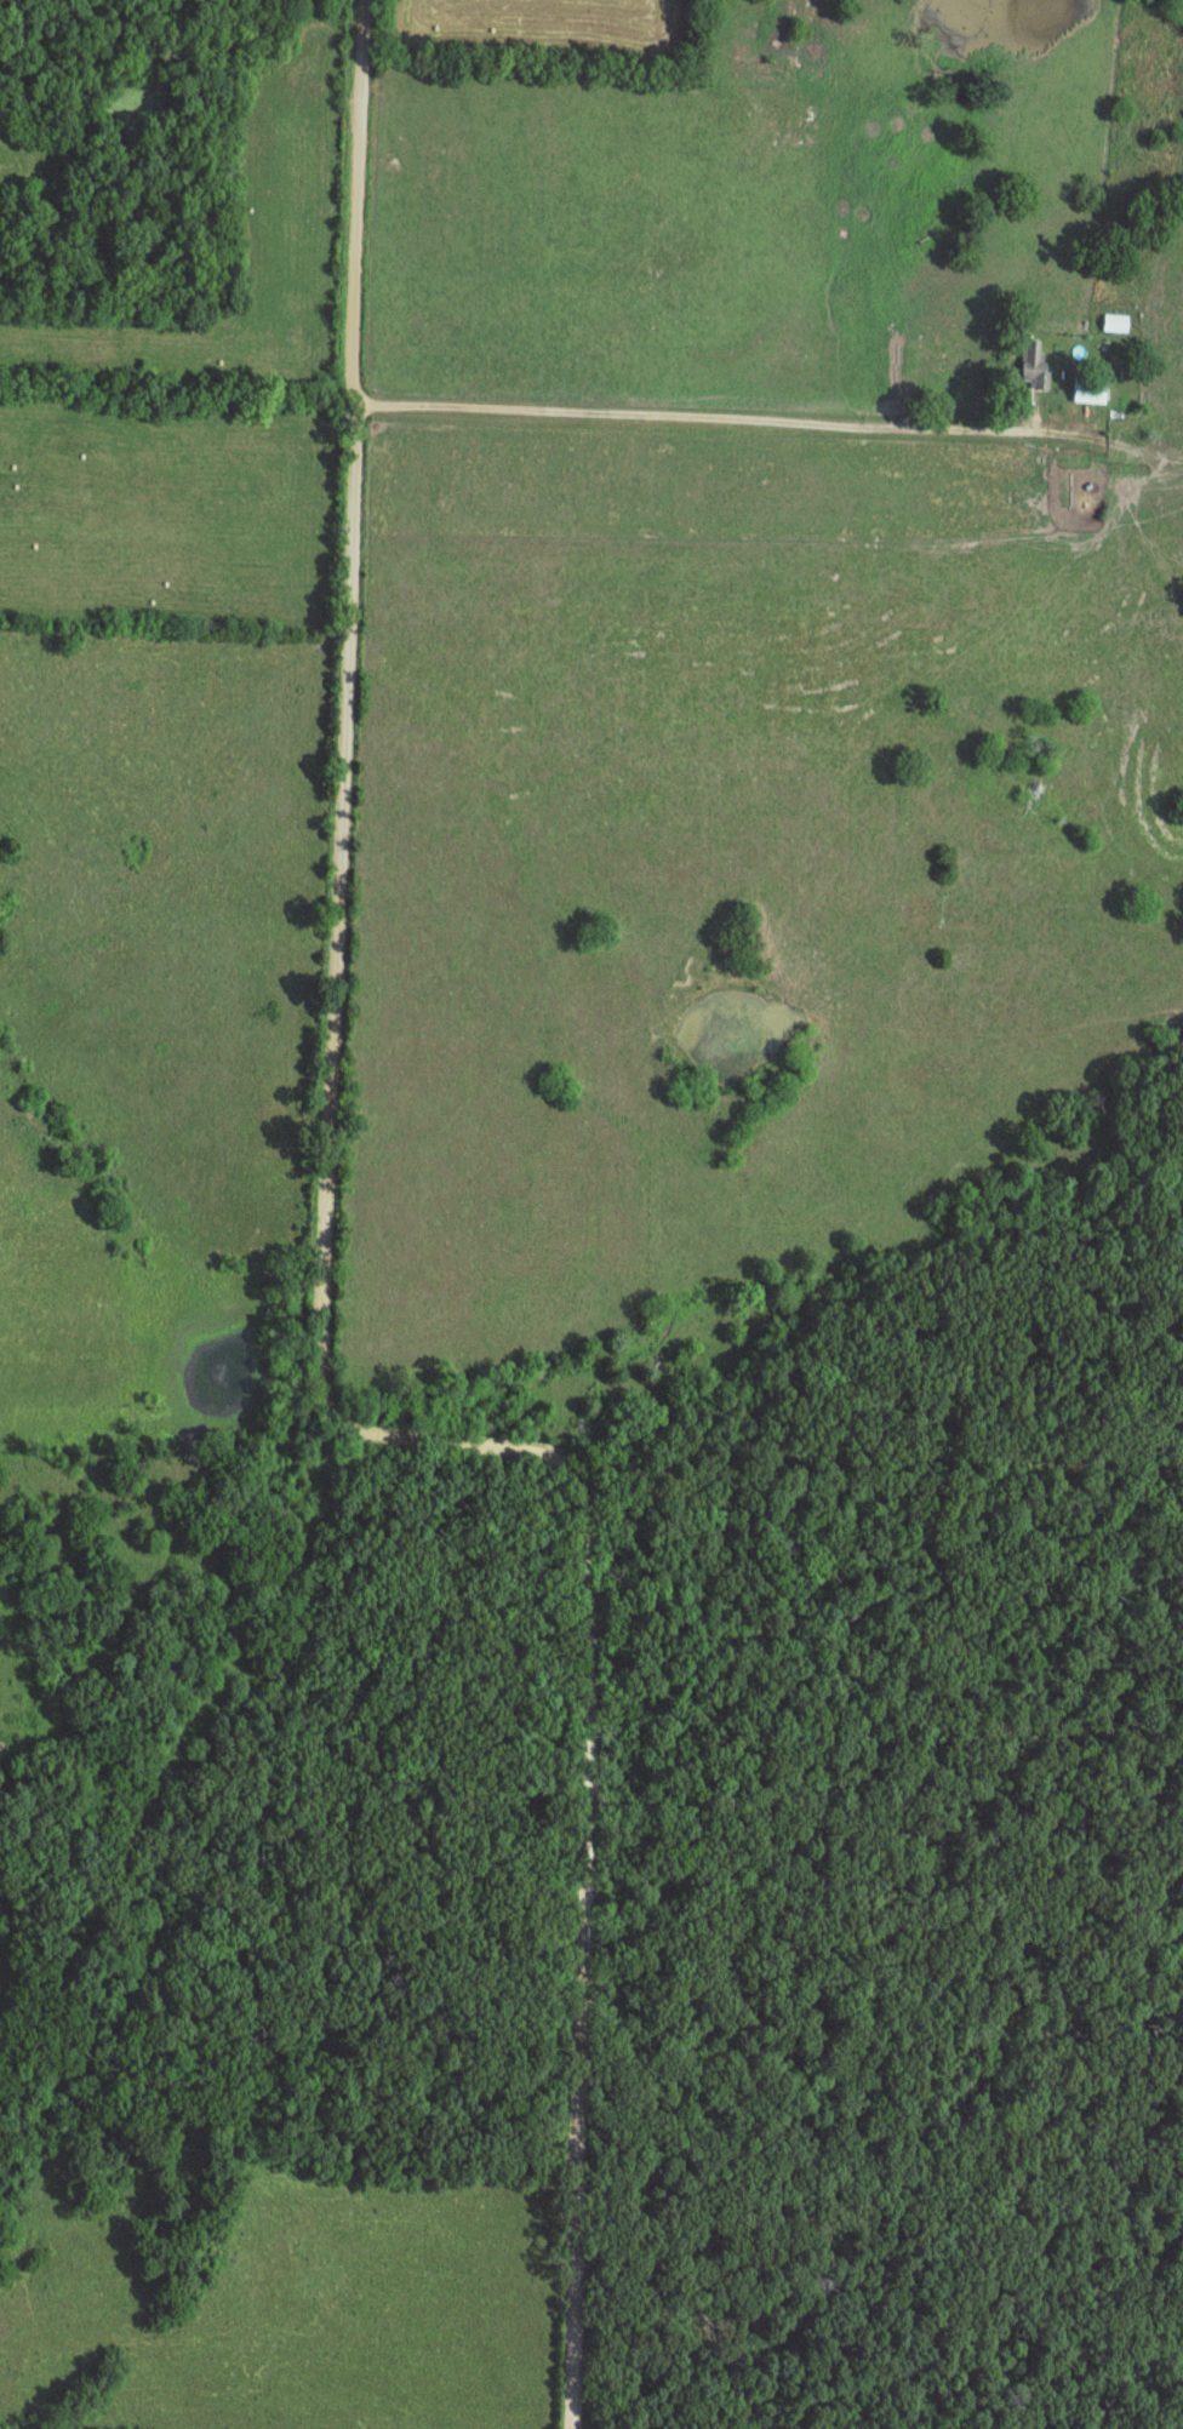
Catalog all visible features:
building: (1113, 322)
building: (1033, 362)
building: (1087, 388)
road: (702, 416)
road: (319, 1318)

